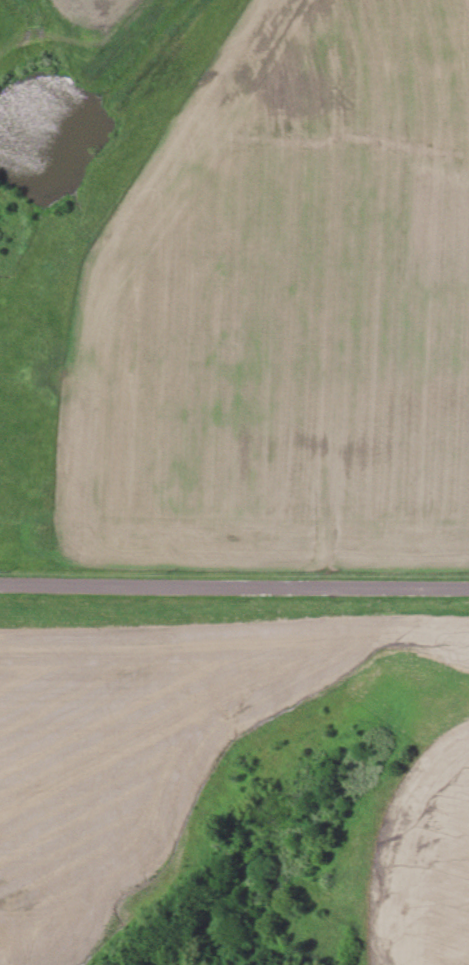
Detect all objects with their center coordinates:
crop: (234, 293)
road: (234, 587)
crop: (230, 764)
crop: (139, 964)

